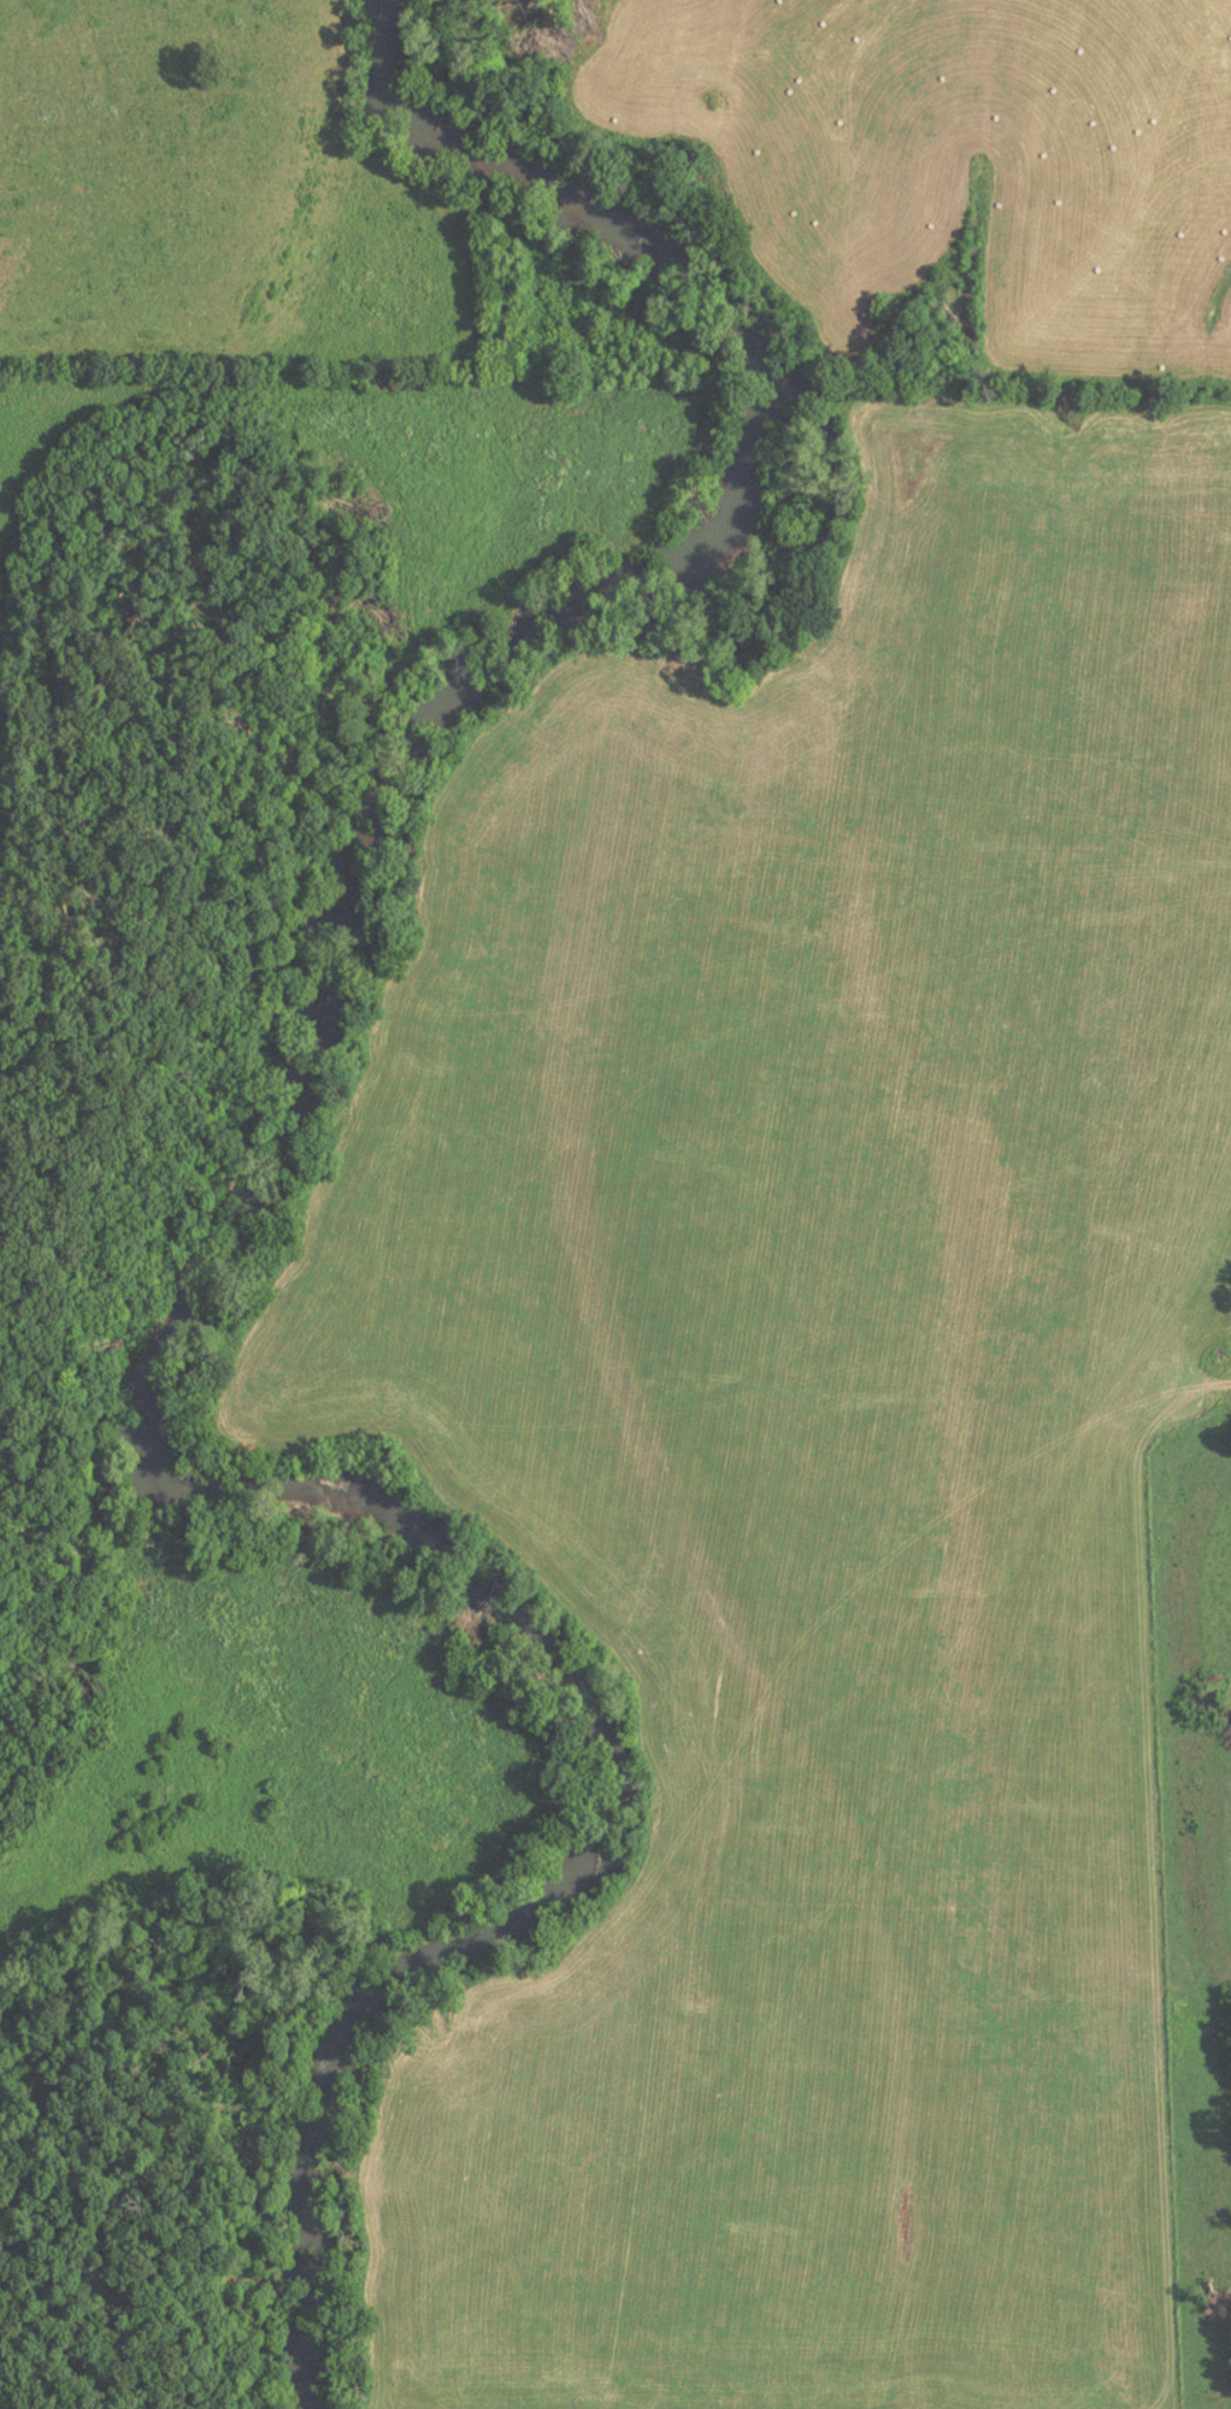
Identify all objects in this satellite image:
river: (196, 1254)

